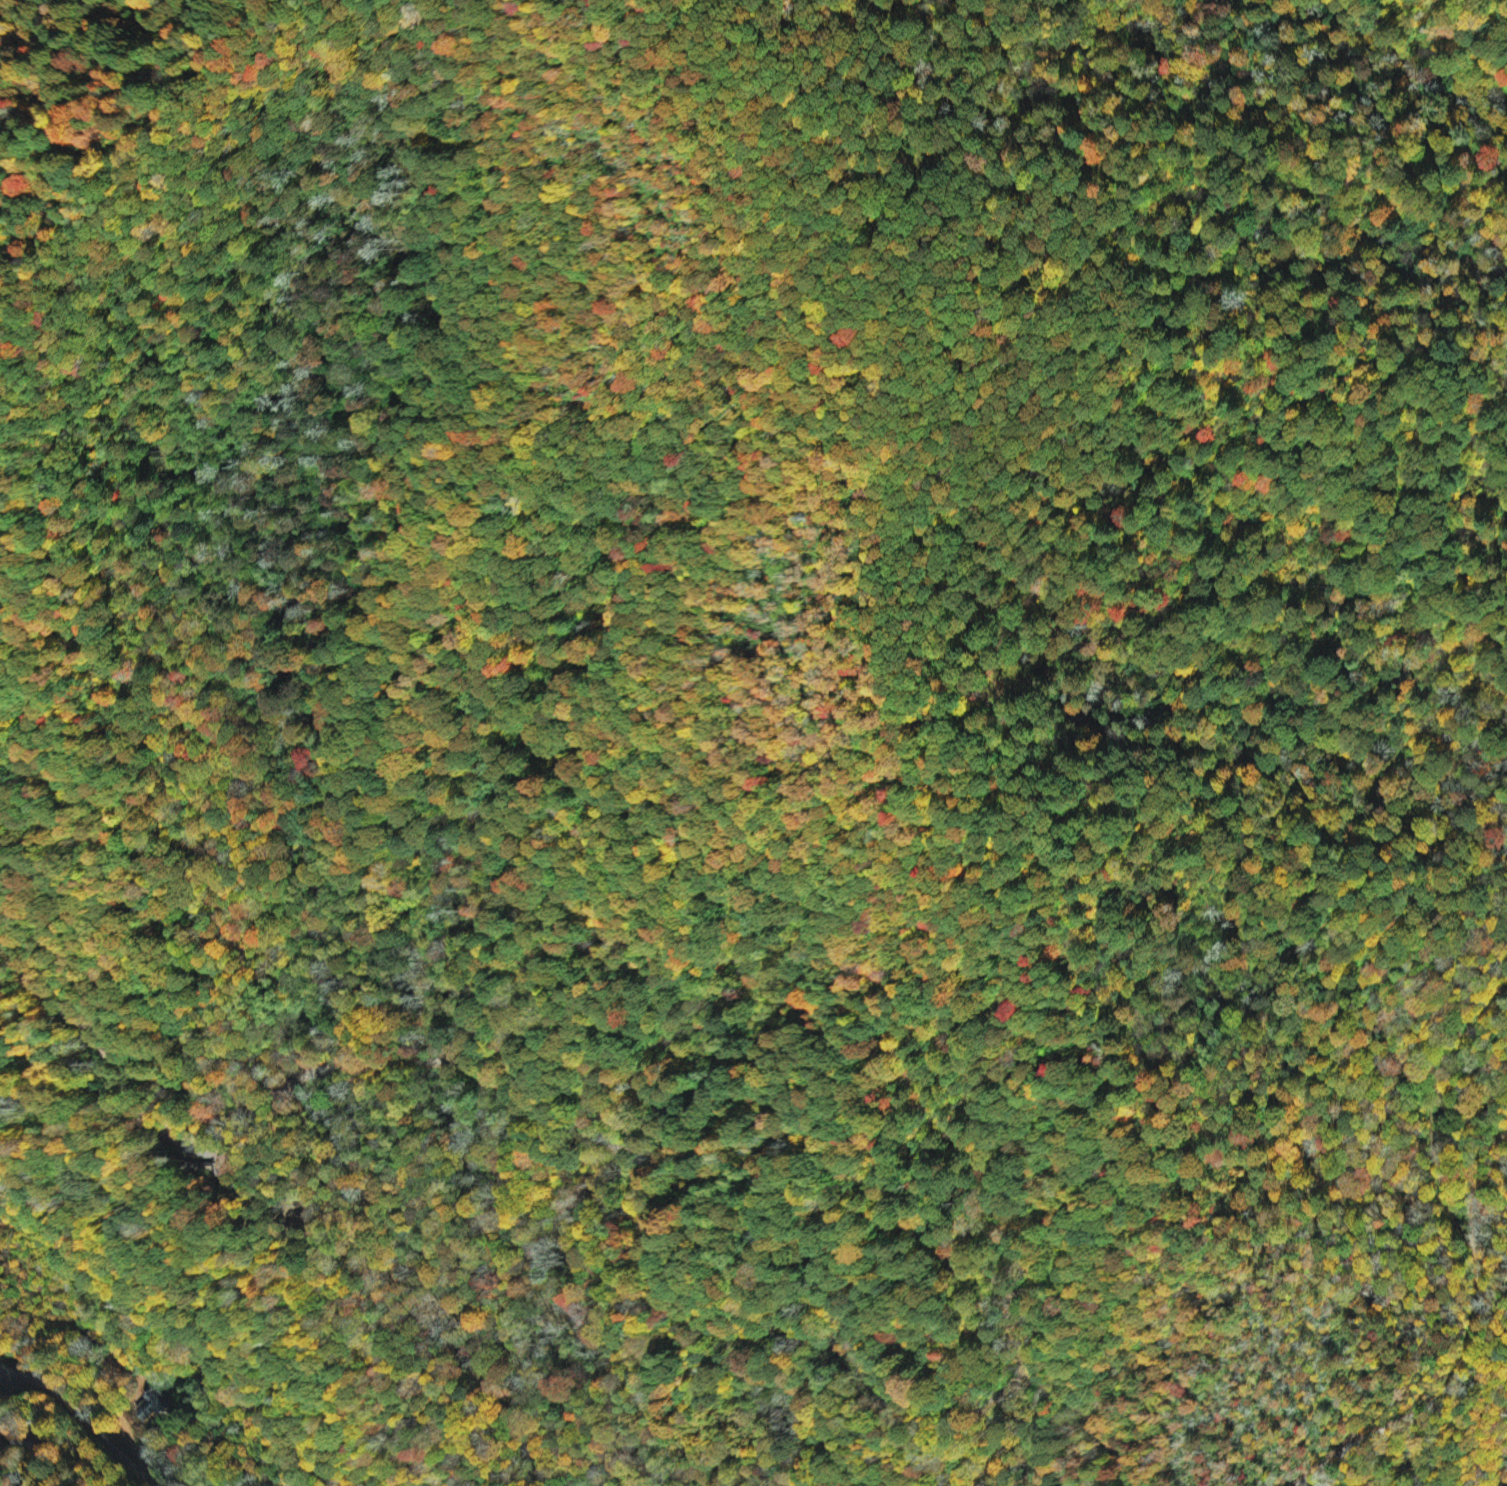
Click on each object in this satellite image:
road: (587, 1137)
road: (1402, 1359)
road: (8, 1379)
road: (1497, 1396)
road: (85, 1415)

